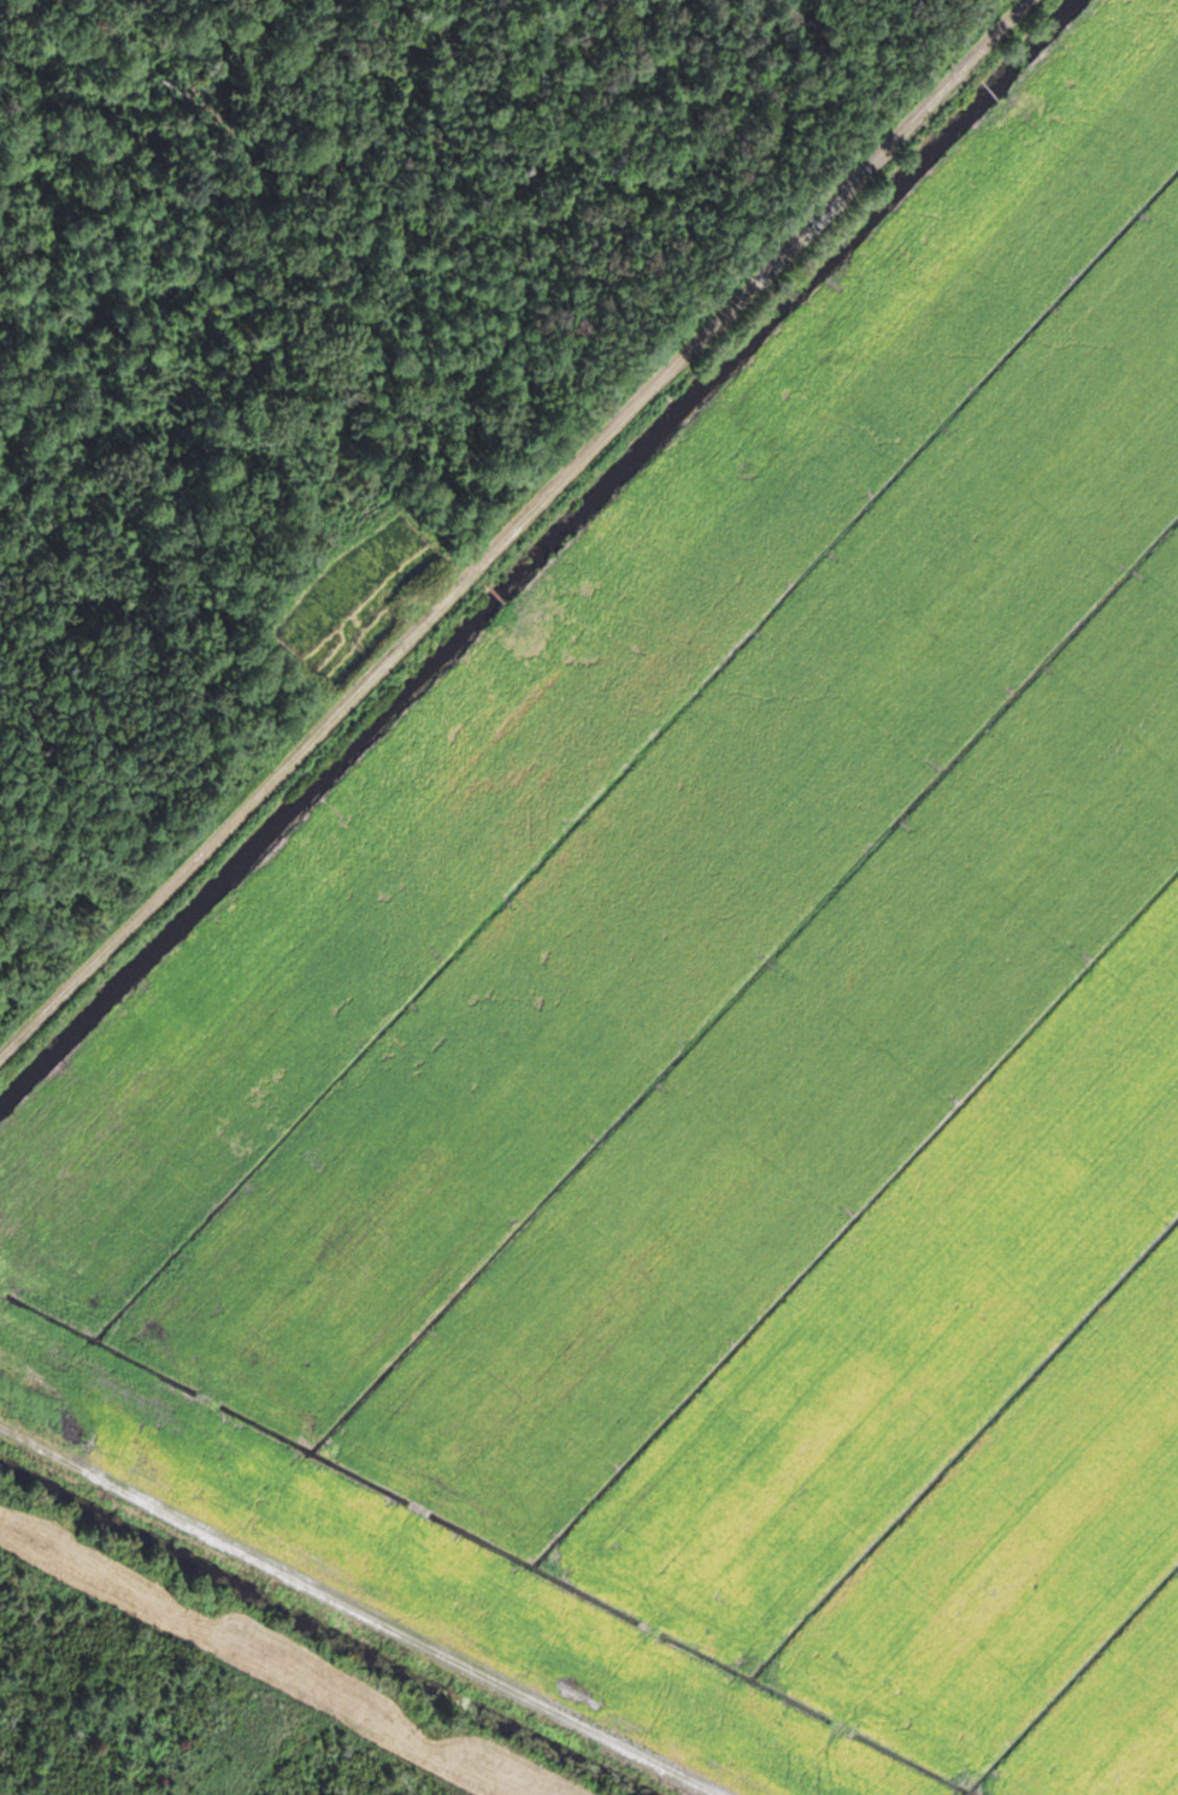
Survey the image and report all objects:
road: (513, 525)
crop: (726, 1051)
road: (352, 1612)

